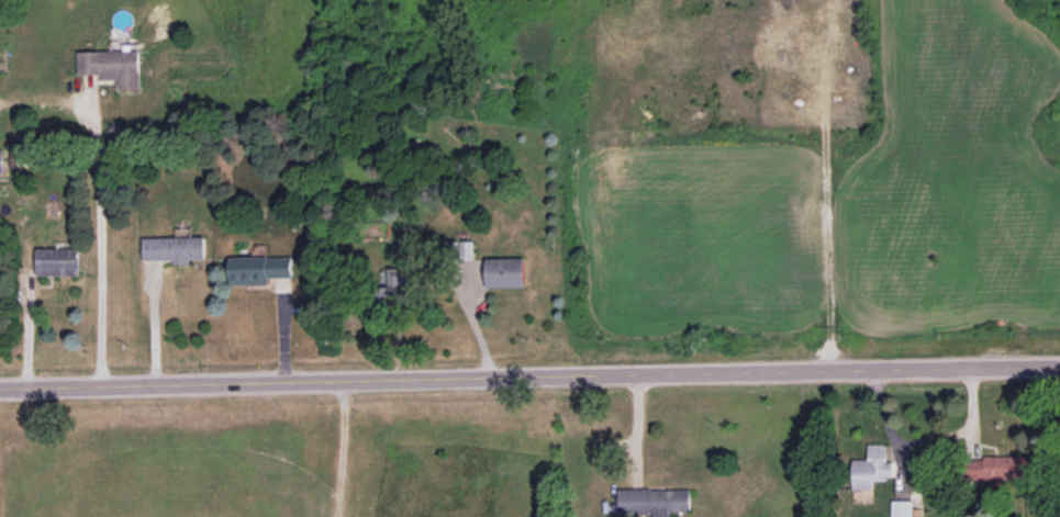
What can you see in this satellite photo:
building: (112, 67)
building: (174, 249)
building: (458, 250)
road: (98, 251)
building: (56, 261)
building: (258, 269)
building: (505, 272)
building: (395, 285)
road: (155, 335)
road: (529, 379)
building: (870, 468)
building: (996, 469)
building: (654, 501)
building: (903, 509)

